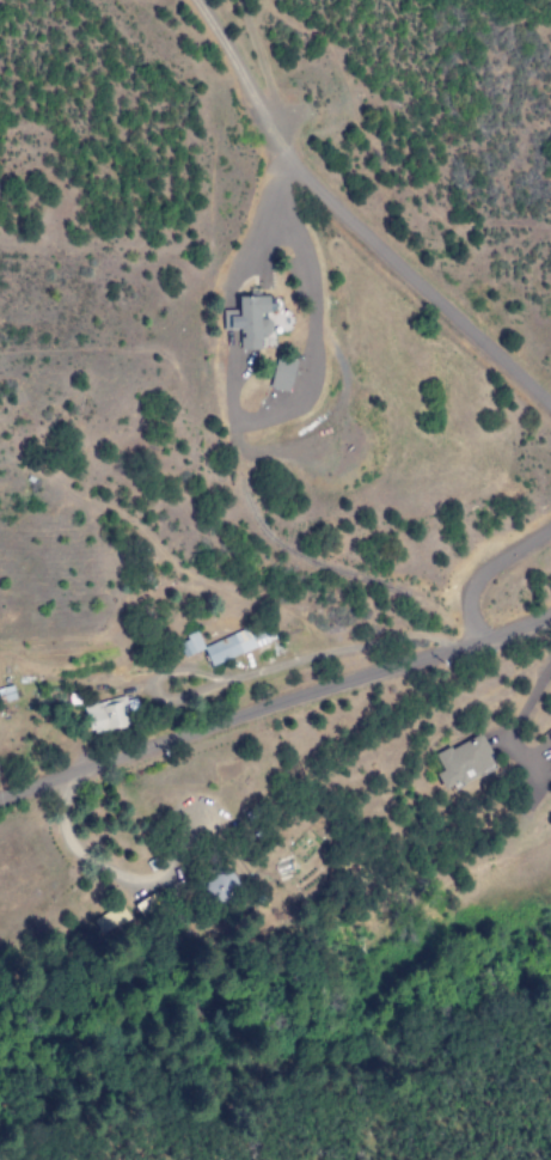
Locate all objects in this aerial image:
road: (326, 200)
building: (250, 322)
building: (281, 374)
road: (486, 567)
building: (238, 643)
building: (189, 645)
road: (275, 708)
building: (106, 715)
building: (549, 735)
building: (461, 763)
building: (219, 886)
building: (109, 920)

